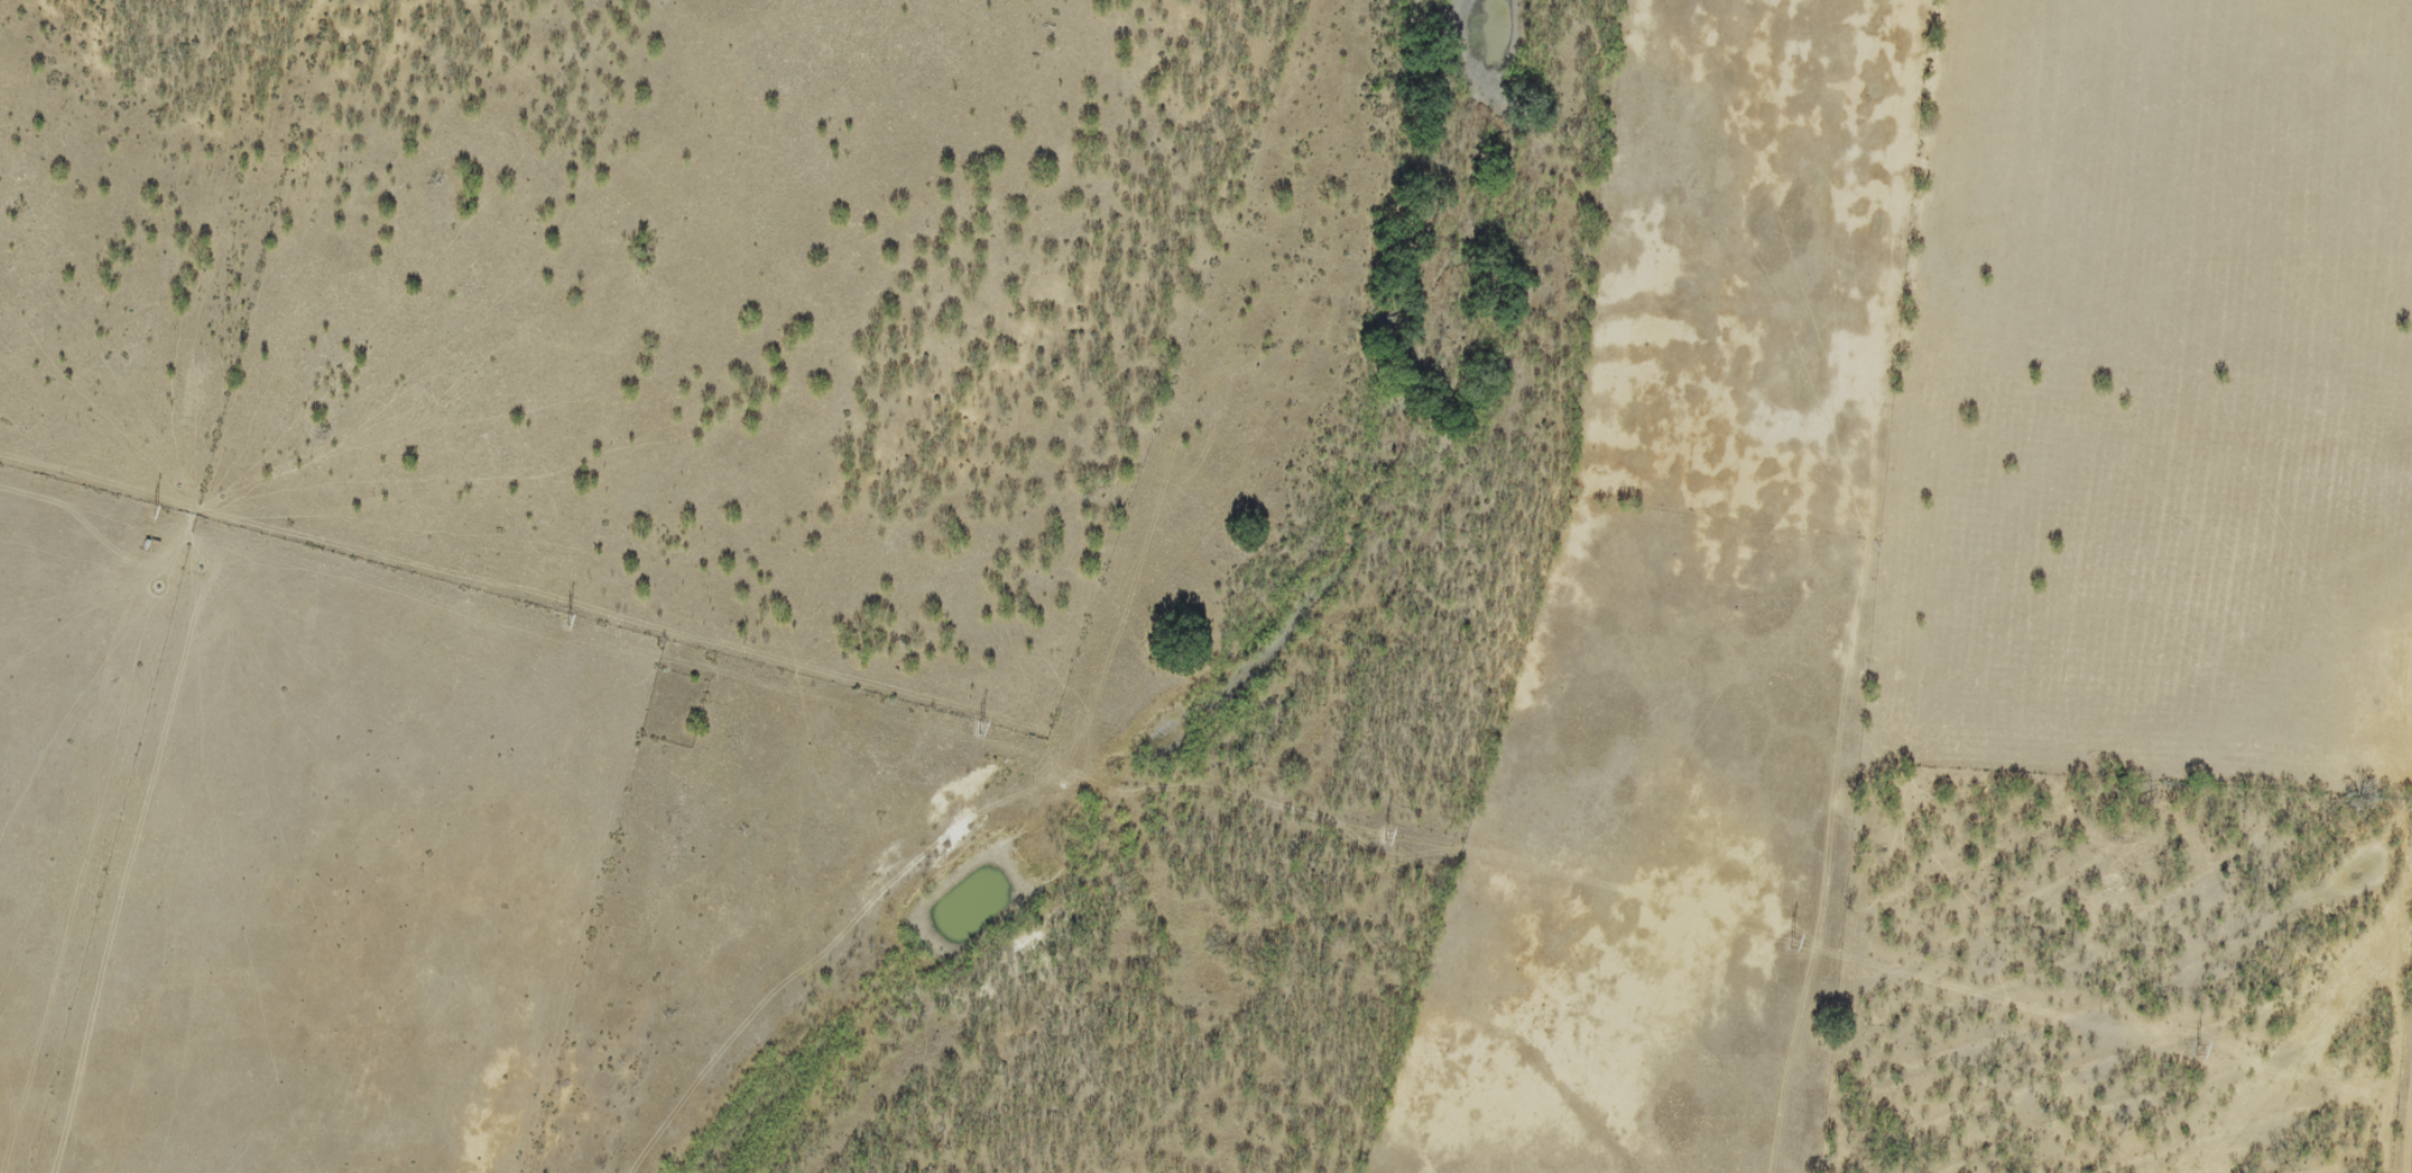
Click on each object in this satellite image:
power tower: (157, 508)
power tower: (571, 616)
power tower: (982, 727)
power tower: (1386, 834)
power tower: (1793, 940)
power tower: (2199, 1049)

